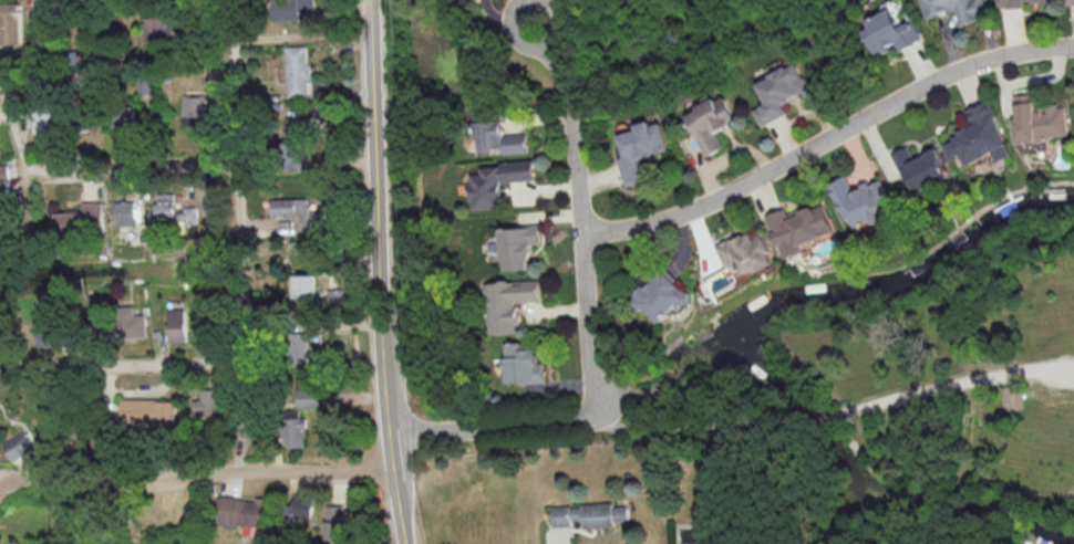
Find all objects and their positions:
building: (1070, 1)
building: (1009, 3)
building: (956, 8)
building: (11, 23)
building: (158, 27)
building: (889, 32)
building: (297, 71)
building: (778, 92)
building: (197, 106)
building: (1040, 119)
building: (711, 122)
building: (45, 124)
road: (14, 125)
building: (291, 130)
building: (980, 136)
building: (498, 137)
road: (827, 140)
building: (639, 148)
building: (0, 151)
building: (923, 166)
road: (118, 168)
building: (498, 181)
road: (238, 184)
building: (4, 187)
building: (176, 211)
building: (297, 211)
building: (126, 215)
road: (579, 216)
building: (82, 218)
building: (801, 227)
building: (516, 245)
building: (747, 251)
road: (378, 272)
building: (304, 285)
building: (662, 296)
building: (509, 302)
building: (176, 320)
building: (128, 322)
building: (299, 351)
building: (523, 363)
road: (136, 368)
road: (954, 386)
building: (307, 394)
building: (1014, 396)
building: (148, 411)
road: (824, 417)
road: (598, 418)
building: (19, 446)
road: (194, 475)
building: (303, 503)
building: (244, 511)
building: (590, 514)
building: (335, 524)
building: (693, 533)

